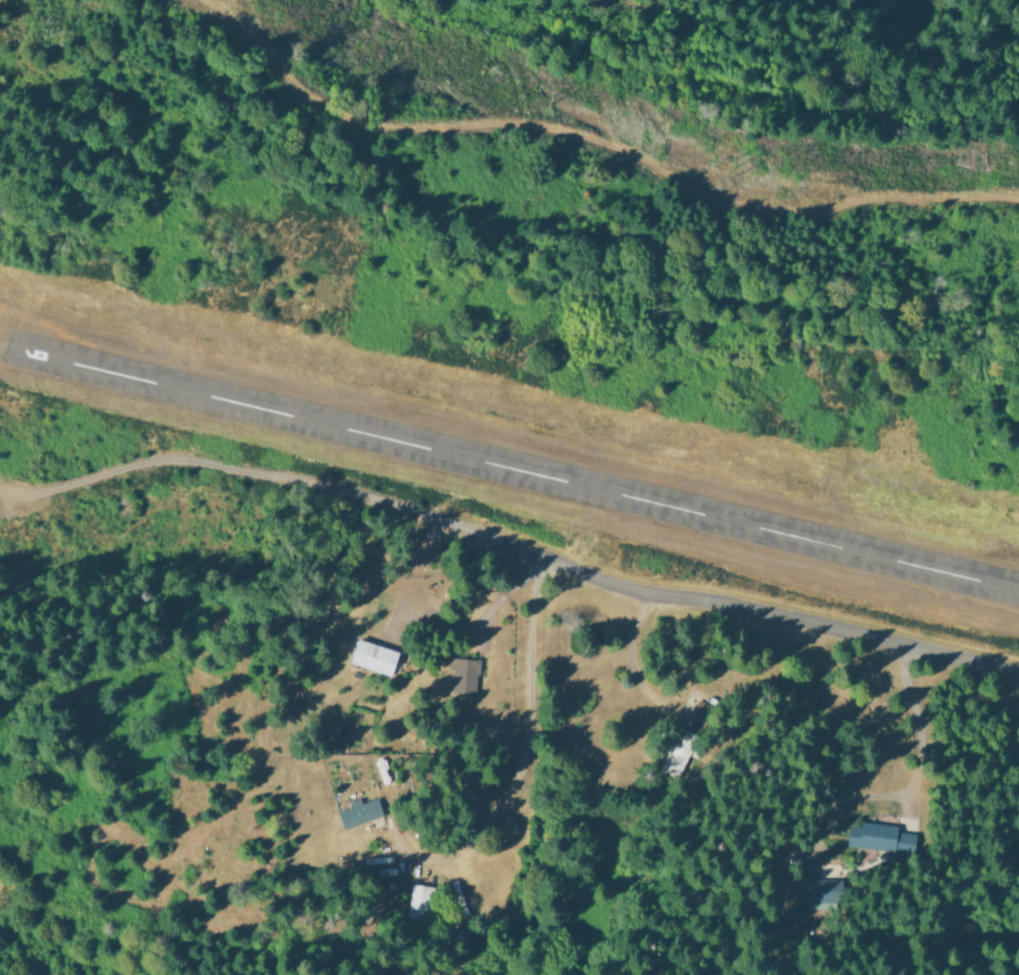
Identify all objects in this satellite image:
road: (594, 141)
airport: (522, 450)
airport runway: (514, 469)
road: (275, 476)
road: (781, 616)
building: (375, 656)
building: (464, 673)
road: (527, 700)
building: (359, 811)
building: (417, 900)

